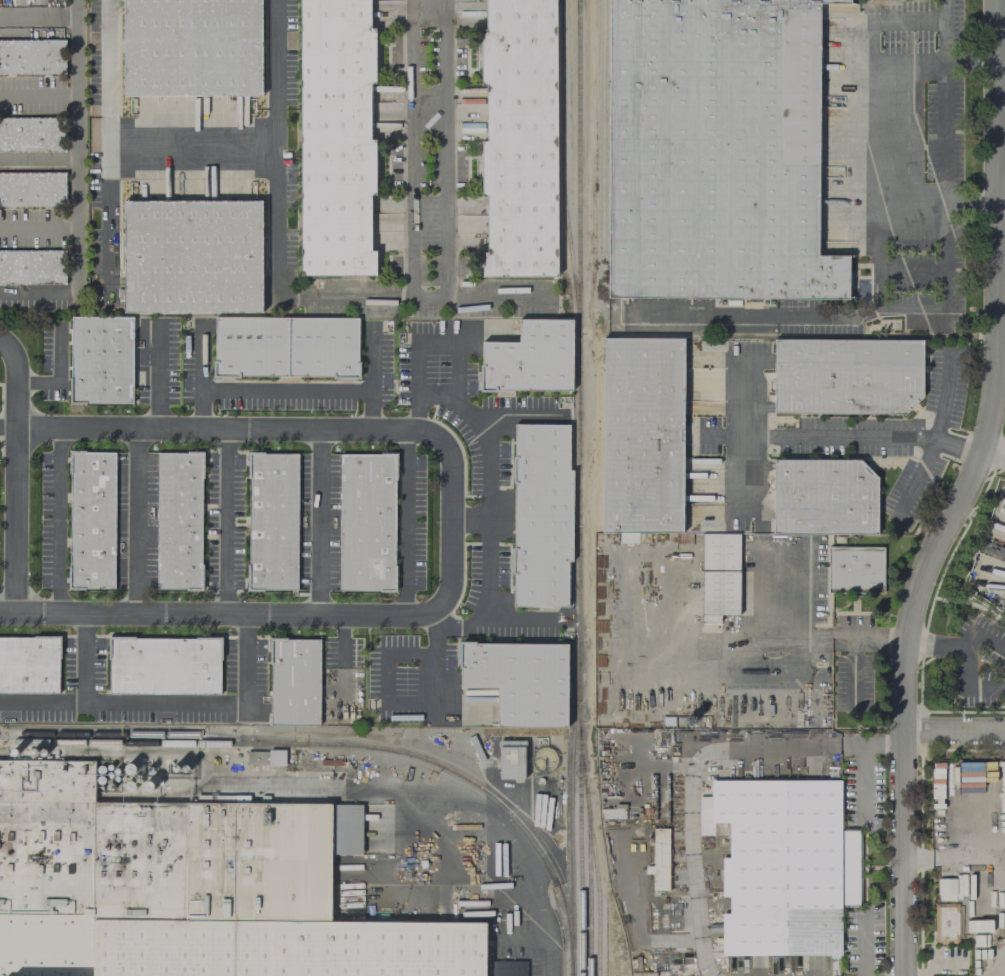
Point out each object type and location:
road: (39, 15)
building: (194, 47)
building: (32, 56)
road: (969, 58)
road: (39, 93)
road: (943, 99)
road: (871, 112)
road: (413, 130)
building: (32, 134)
building: (335, 137)
building: (519, 139)
road: (120, 147)
building: (715, 150)
road: (39, 159)
railway: (561, 164)
road: (78, 184)
building: (32, 189)
road: (110, 221)
road: (39, 226)
building: (195, 257)
building: (32, 266)
road: (361, 295)
road: (497, 295)
road: (929, 312)
road: (870, 315)
building: (660, 329)
building: (760, 329)
railway: (577, 340)
building: (250, 352)
building: (323, 352)
building: (104, 360)
building: (531, 366)
road: (57, 372)
building: (849, 376)
road: (200, 377)
road: (372, 379)
road: (286, 391)
road: (517, 414)
road: (9, 421)
road: (230, 430)
building: (645, 435)
road: (938, 435)
road: (842, 437)
road: (745, 438)
road: (994, 450)
road: (17, 475)
road: (963, 490)
building: (826, 498)
road: (485, 501)
road: (468, 518)
road: (56, 521)
building: (94, 521)
building: (181, 521)
building: (274, 521)
building: (543, 521)
road: (133, 522)
building: (369, 522)
road: (226, 523)
road: (320, 523)
road: (403, 524)
road: (451, 525)
building: (627, 537)
building: (854, 569)
building: (719, 575)
road: (218, 615)
road: (523, 621)
road: (869, 640)
road: (740, 641)
road: (957, 644)
road: (85, 660)
road: (343, 662)
building: (30, 665)
building: (166, 666)
building: (297, 682)
building: (520, 686)
road: (170, 707)
road: (954, 732)
railway: (144, 733)
road: (871, 743)
railway: (345, 744)
road: (821, 745)
building: (265, 757)
building: (510, 759)
road: (863, 779)
road: (689, 813)
railway: (570, 828)
railway: (579, 828)
road: (954, 851)
building: (659, 859)
railway: (594, 861)
building: (782, 864)
building: (184, 890)
railway: (588, 895)
building: (945, 922)
road: (545, 946)
road: (863, 947)
road: (1000, 967)

